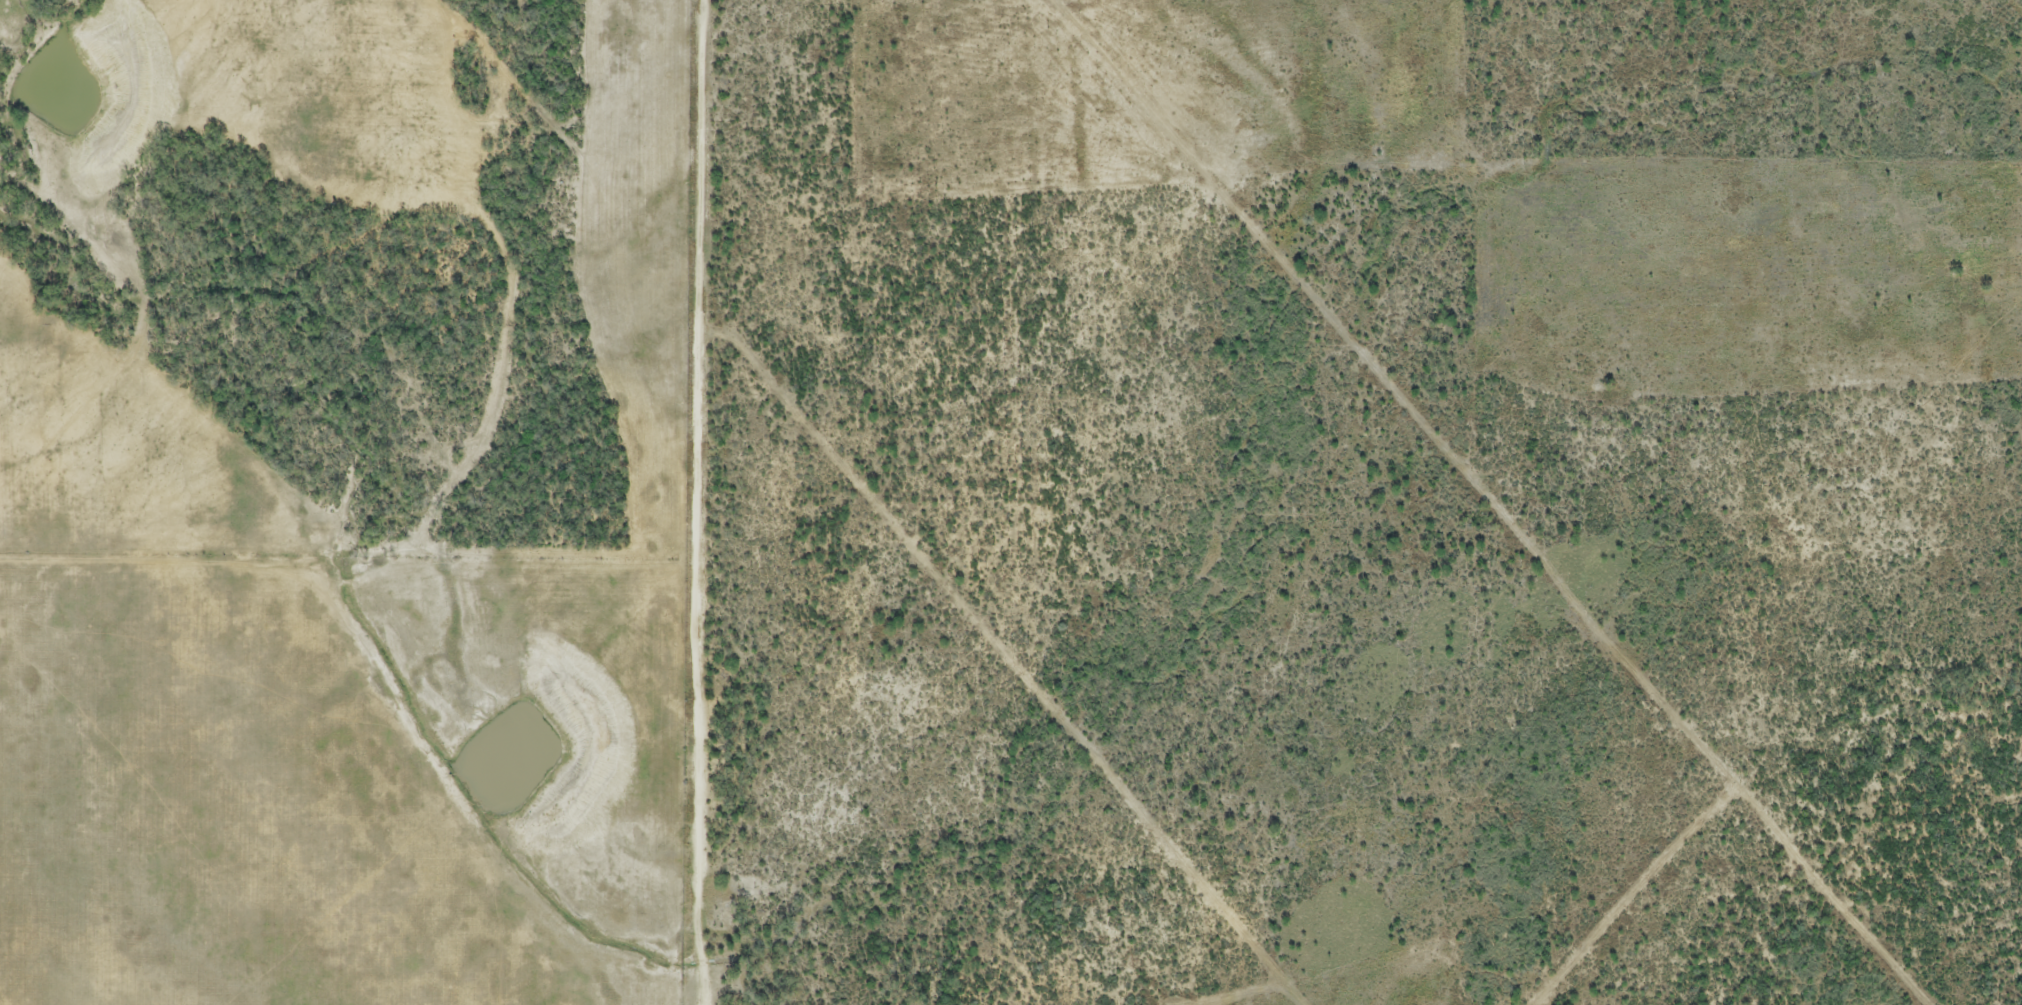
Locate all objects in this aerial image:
road: (692, 502)

